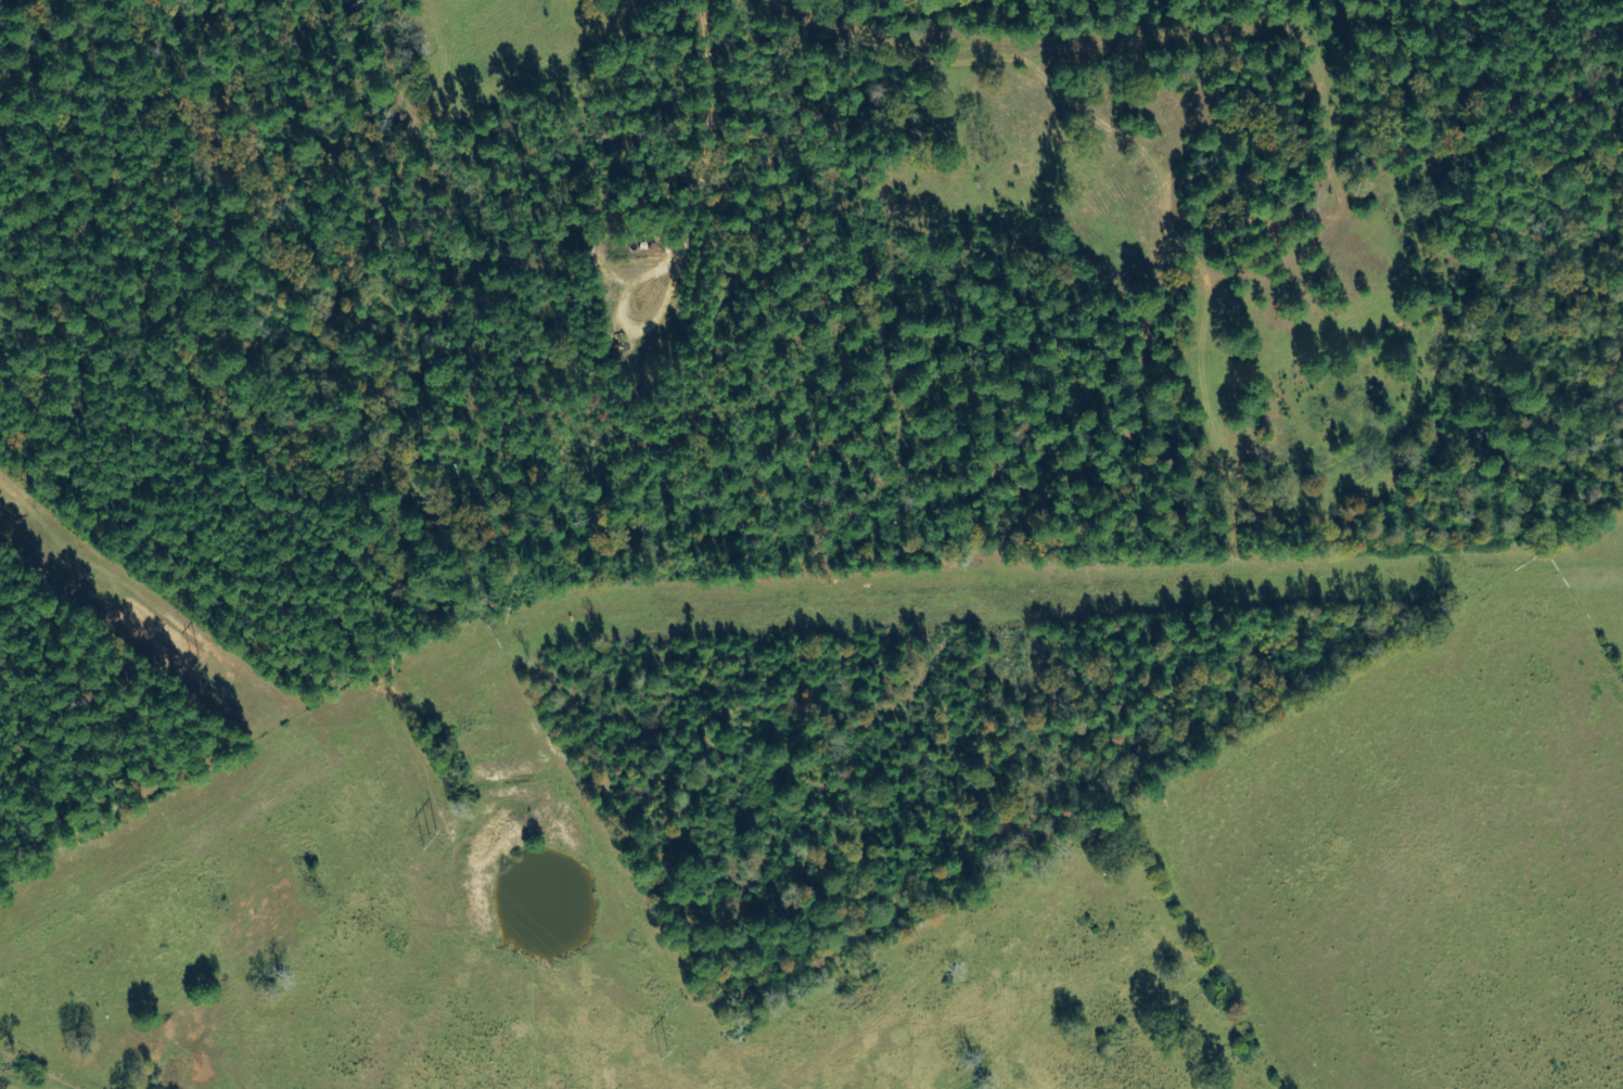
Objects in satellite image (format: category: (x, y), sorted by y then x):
power tower: (194, 670)
power tower: (427, 840)
power tower: (664, 1053)

